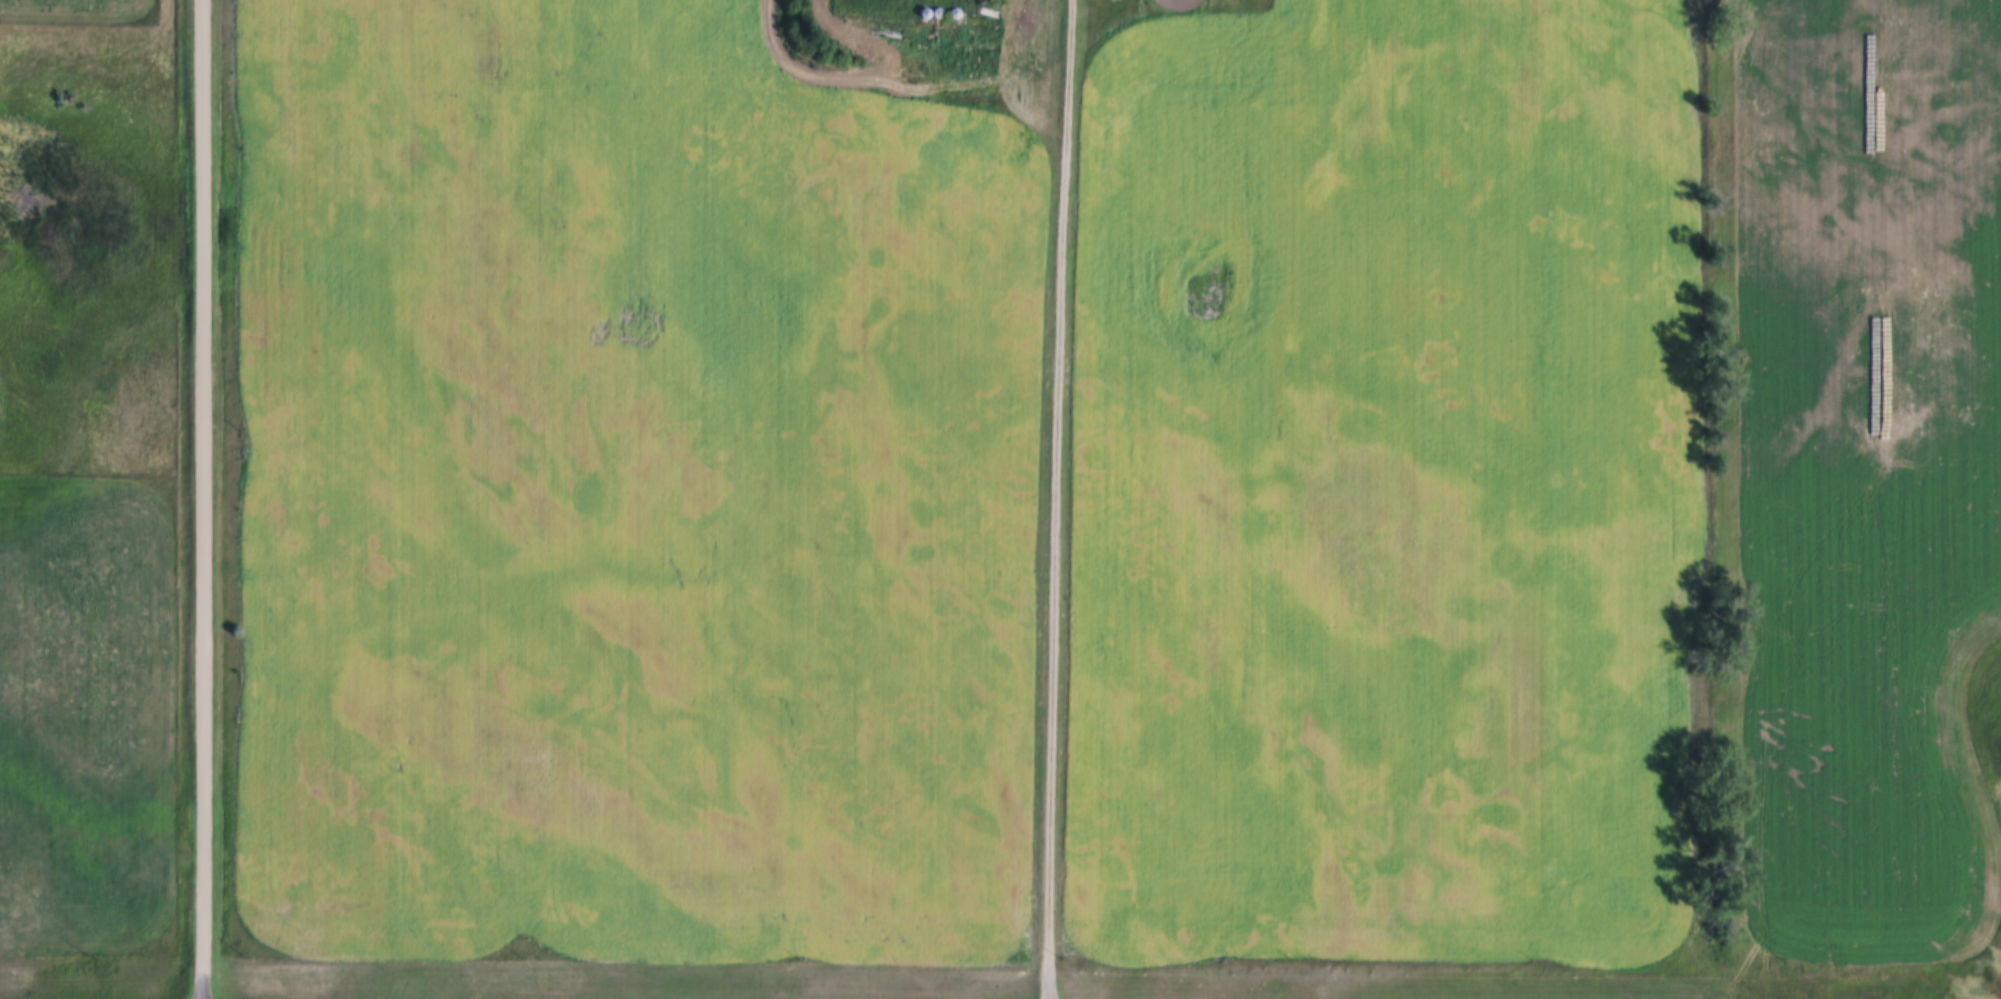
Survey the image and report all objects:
road: (206, 499)
road: (1057, 499)

